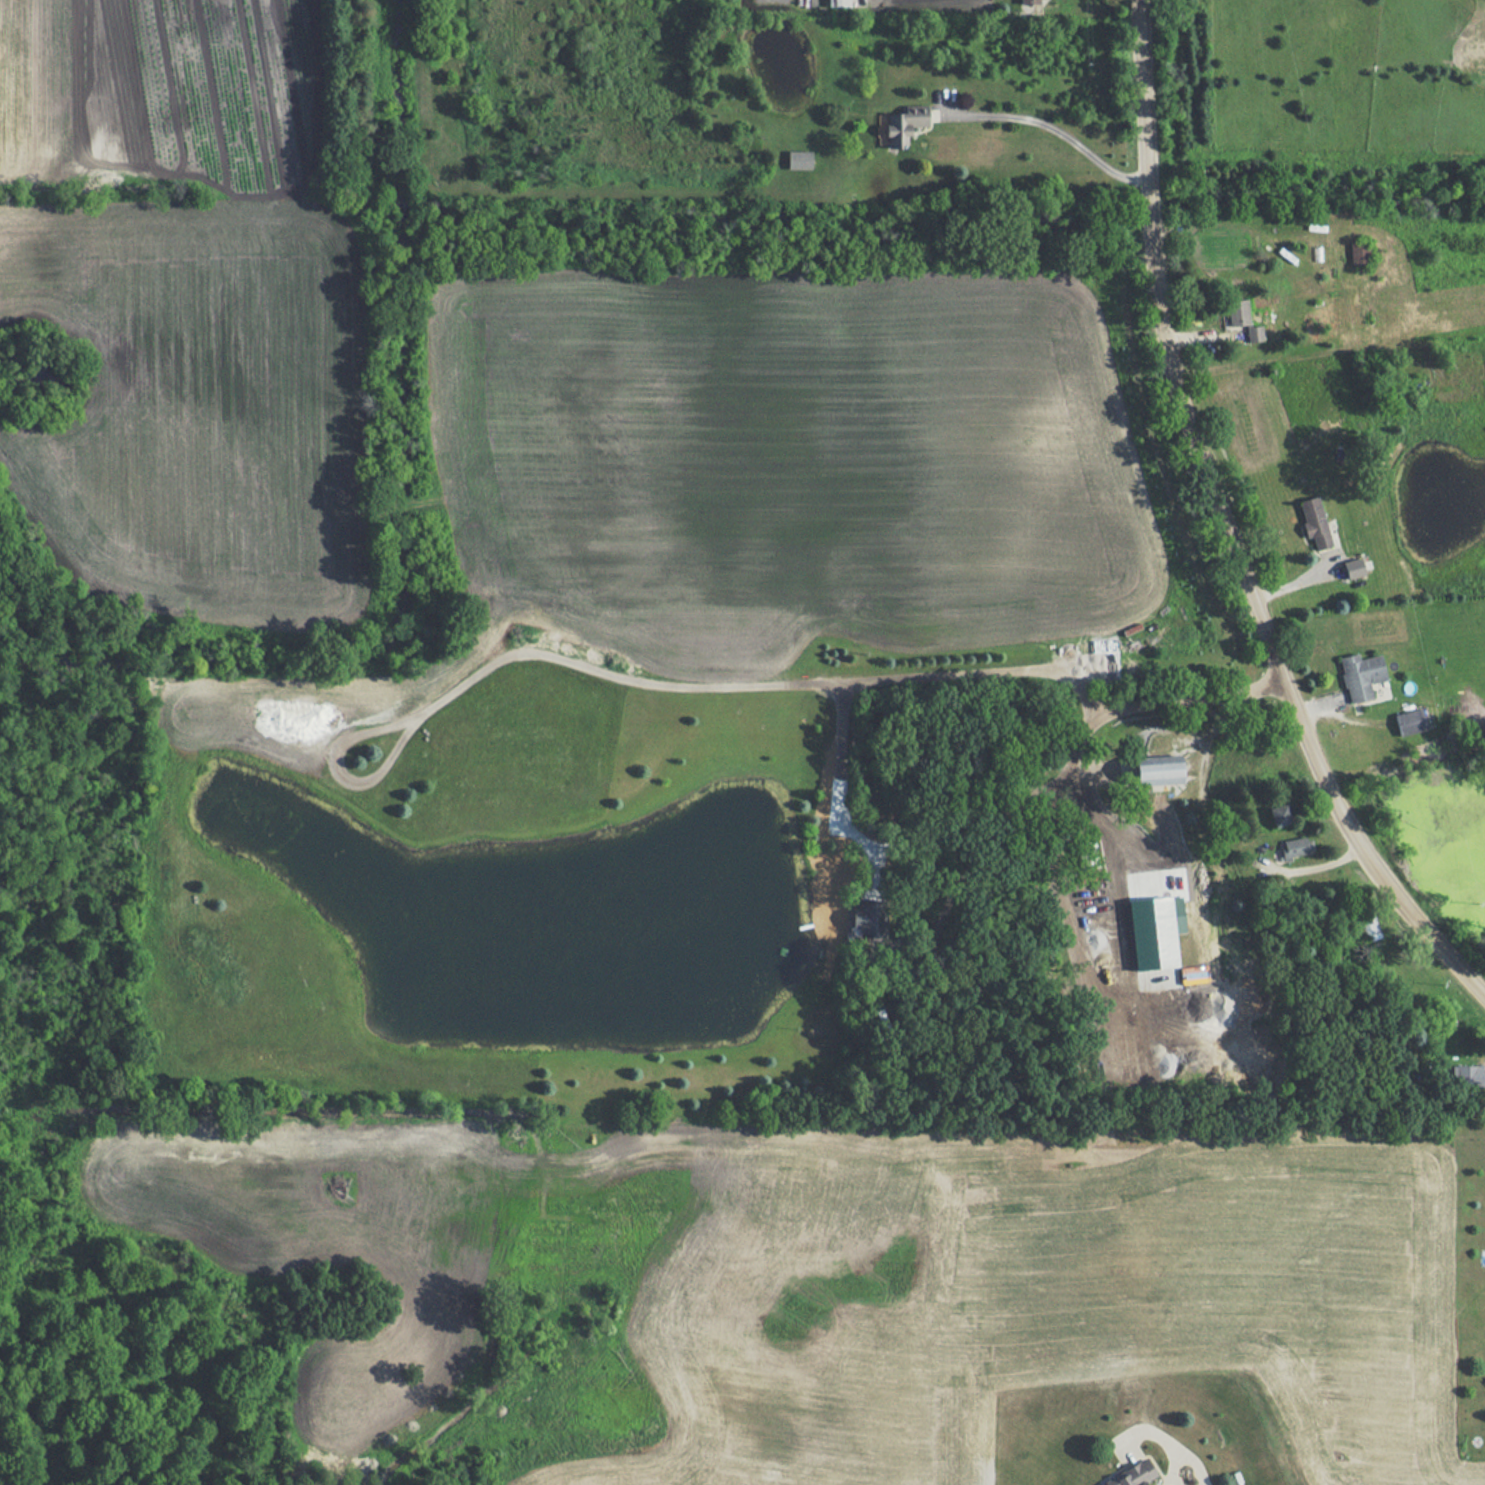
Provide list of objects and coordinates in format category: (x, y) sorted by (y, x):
building: (1030, 1)
building: (839, 3)
building: (904, 124)
road: (1052, 129)
building: (799, 159)
building: (1358, 253)
building: (1237, 313)
building: (1254, 333)
building: (1314, 522)
road: (1225, 532)
building: (1352, 568)
road: (912, 672)
building: (1360, 676)
building: (1409, 722)
building: (1157, 770)
road: (1065, 785)
building: (1279, 815)
building: (1296, 847)
building: (868, 920)
building: (1156, 931)
building: (1467, 1076)
road: (1165, 1433)
building: (1133, 1475)

